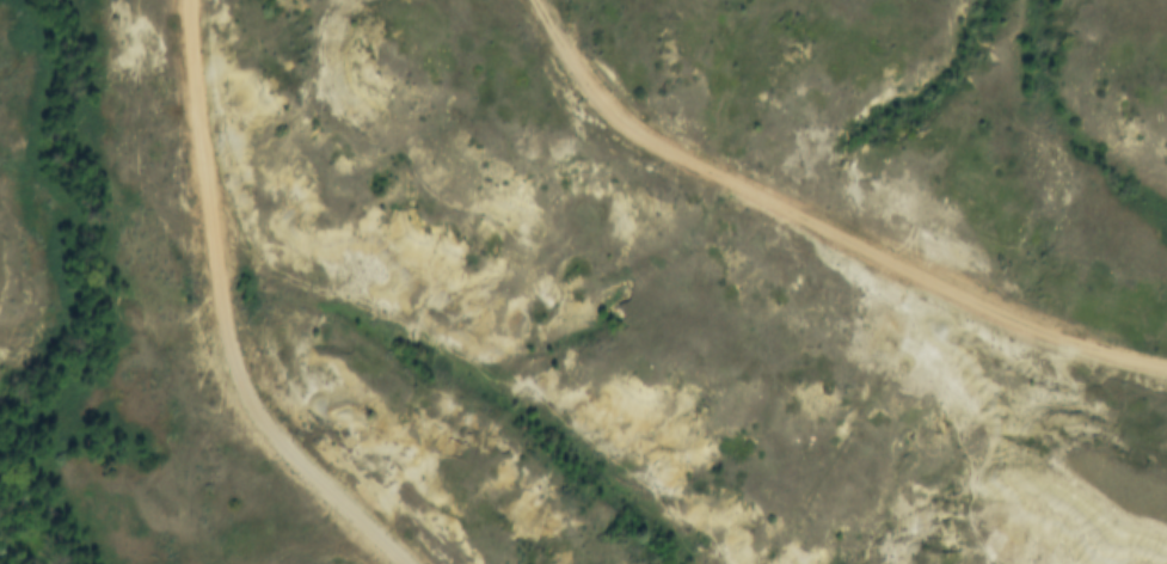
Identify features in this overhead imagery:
road: (827, 221)
road: (216, 318)

